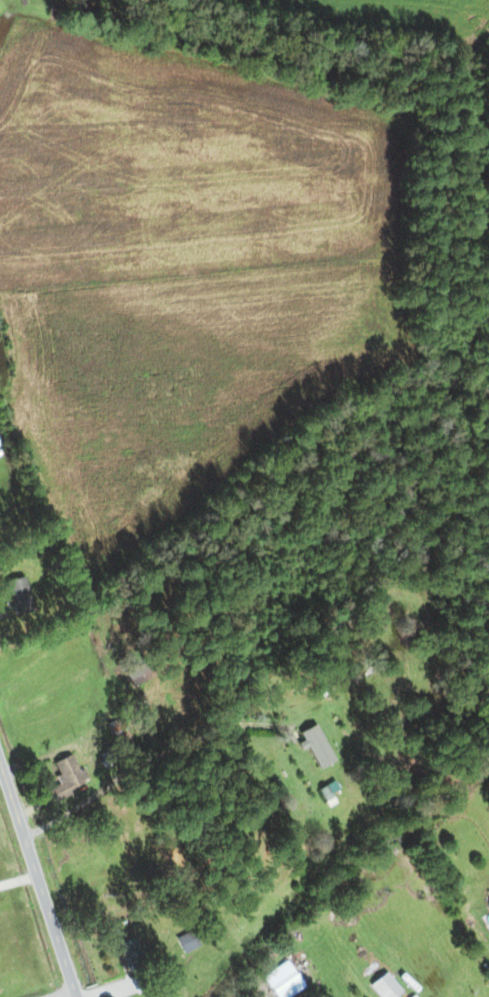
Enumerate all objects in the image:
building: (20, 596)
building: (68, 777)
road: (38, 879)
building: (185, 943)
building: (135, 964)
building: (284, 981)
building: (386, 987)

